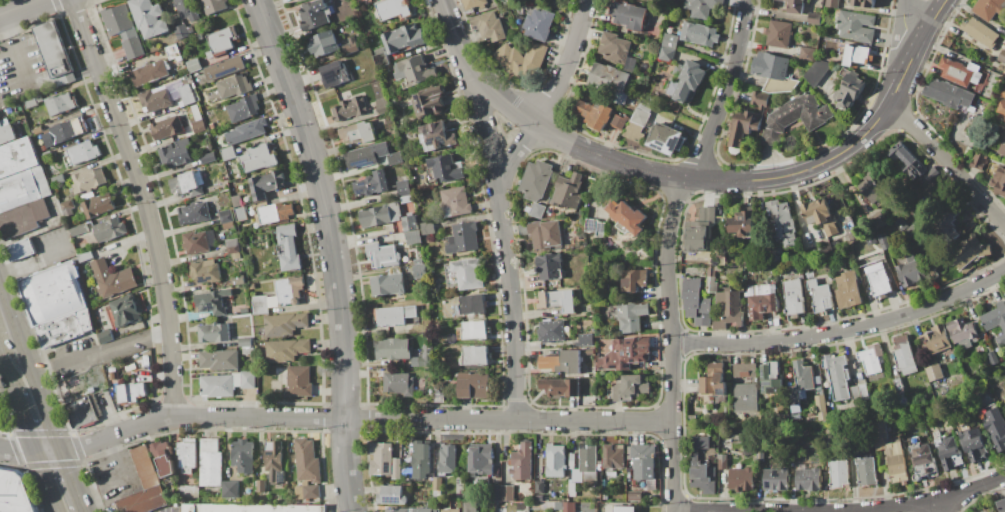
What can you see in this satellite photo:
building: (295, 0)
building: (328, 1)
building: (864, 3)
building: (474, 4)
building: (832, 4)
building: (214, 6)
building: (794, 6)
road: (20, 7)
building: (702, 7)
building: (186, 9)
building: (395, 9)
building: (988, 9)
building: (314, 15)
building: (628, 15)
building: (149, 18)
building: (814, 19)
road: (904, 23)
building: (539, 25)
building: (488, 26)
building: (855, 26)
building: (123, 30)
building: (190, 30)
building: (181, 32)
building: (980, 33)
building: (699, 34)
building: (779, 34)
building: (200, 36)
building: (404, 39)
building: (1004, 39)
building: (222, 41)
building: (670, 42)
building: (323, 44)
building: (614, 48)
building: (348, 49)
building: (54, 50)
building: (379, 51)
building: (173, 53)
building: (806, 53)
road: (16, 54)
building: (666, 55)
building: (857, 56)
building: (1002, 57)
building: (380, 60)
building: (522, 61)
building: (179, 63)
building: (167, 64)
building: (194, 65)
building: (630, 65)
building: (770, 66)
building: (225, 68)
building: (677, 70)
building: (414, 71)
building: (957, 71)
building: (817, 72)
building: (149, 73)
building: (334, 74)
building: (976, 76)
building: (65, 79)
building: (983, 79)
building: (610, 82)
building: (687, 83)
building: (779, 85)
building: (234, 86)
building: (849, 90)
building: (1002, 93)
building: (411, 94)
building: (949, 94)
building: (187, 95)
building: (39, 99)
road: (549, 99)
building: (155, 100)
building: (428, 102)
building: (30, 103)
building: (61, 104)
building: (382, 104)
building: (644, 108)
building: (244, 109)
building: (349, 109)
building: (1001, 109)
building: (799, 113)
building: (595, 115)
building: (640, 117)
road: (874, 121)
building: (1004, 121)
building: (4, 122)
building: (620, 123)
building: (747, 123)
building: (0, 125)
building: (167, 128)
building: (199, 128)
building: (68, 130)
building: (38, 131)
building: (247, 131)
building: (634, 132)
building: (357, 133)
building: (7, 134)
building: (437, 136)
building: (770, 137)
building: (48, 139)
building: (666, 139)
road: (565, 141)
building: (42, 148)
building: (1003, 149)
building: (969, 152)
building: (81, 153)
building: (228, 153)
building: (176, 154)
building: (46, 155)
building: (365, 156)
building: (17, 157)
building: (207, 158)
building: (258, 158)
building: (394, 158)
building: (908, 161)
building: (978, 161)
road: (947, 163)
building: (446, 168)
building: (569, 168)
building: (387, 170)
building: (932, 174)
building: (59, 180)
building: (88, 180)
building: (536, 180)
building: (999, 181)
building: (188, 184)
building: (371, 184)
building: (266, 185)
building: (873, 187)
building: (403, 188)
building: (23, 189)
building: (569, 192)
building: (406, 199)
building: (237, 201)
building: (455, 202)
road: (144, 205)
building: (67, 207)
building: (97, 207)
building: (536, 210)
building: (194, 212)
building: (275, 213)
building: (241, 214)
building: (381, 214)
building: (708, 214)
building: (226, 216)
building: (820, 216)
building: (627, 217)
building: (23, 219)
building: (410, 223)
building: (947, 223)
building: (782, 224)
building: (592, 225)
building: (743, 225)
building: (958, 225)
building: (228, 226)
building: (427, 228)
building: (601, 229)
building: (79, 230)
building: (110, 230)
building: (267, 232)
building: (546, 234)
building: (698, 236)
building: (211, 237)
building: (221, 237)
building: (413, 237)
building: (463, 239)
building: (871, 240)
building: (883, 242)
building: (196, 243)
building: (112, 246)
building: (232, 247)
building: (289, 247)
road: (503, 249)
building: (642, 249)
road: (667, 249)
building: (20, 250)
road: (333, 250)
building: (78, 252)
building: (972, 253)
building: (777, 255)
building: (84, 256)
building: (236, 256)
building: (384, 256)
road: (33, 260)
building: (418, 262)
building: (550, 267)
building: (205, 271)
building: (419, 271)
building: (834, 272)
building: (911, 272)
building: (469, 273)
building: (712, 275)
building: (877, 277)
building: (112, 279)
building: (238, 280)
building: (634, 280)
building: (811, 284)
building: (387, 285)
building: (252, 286)
building: (290, 289)
building: (760, 290)
building: (847, 290)
building: (52, 294)
building: (691, 296)
building: (793, 298)
building: (822, 299)
building: (557, 301)
building: (213, 302)
building: (273, 302)
building: (261, 305)
building: (471, 305)
building: (761, 306)
building: (728, 310)
building: (126, 311)
building: (244, 311)
building: (703, 313)
building: (394, 315)
building: (603, 317)
building: (630, 317)
building: (996, 321)
building: (285, 324)
building: (65, 328)
building: (475, 331)
road: (843, 331)
building: (551, 332)
building: (214, 333)
building: (962, 333)
road: (7, 334)
building: (106, 337)
building: (585, 340)
building: (938, 340)
road: (17, 341)
building: (244, 342)
building: (393, 349)
building: (286, 350)
building: (247, 351)
road: (88, 352)
building: (589, 352)
building: (625, 354)
building: (904, 356)
building: (474, 357)
building: (424, 358)
building: (993, 358)
building: (872, 359)
building: (219, 360)
building: (562, 362)
building: (744, 370)
building: (934, 373)
building: (112, 375)
building: (837, 375)
building: (803, 376)
road: (6, 378)
building: (148, 378)
building: (771, 378)
building: (237, 379)
building: (249, 379)
building: (714, 380)
building: (299, 382)
building: (817, 382)
building: (399, 384)
building: (473, 385)
building: (82, 386)
building: (217, 386)
building: (898, 386)
building: (588, 387)
building: (630, 387)
building: (560, 388)
building: (863, 392)
building: (130, 393)
building: (802, 394)
building: (855, 394)
building: (793, 396)
building: (983, 397)
building: (745, 398)
building: (902, 400)
building: (959, 403)
building: (821, 407)
building: (83, 411)
building: (795, 417)
road: (46, 418)
building: (693, 418)
road: (333, 420)
road: (22, 422)
building: (995, 426)
building: (881, 432)
building: (828, 442)
building: (209, 445)
building: (974, 445)
building: (698, 446)
building: (794, 449)
building: (948, 451)
building: (187, 455)
building: (242, 456)
building: (164, 458)
building: (614, 458)
building: (448, 459)
building: (481, 459)
building: (421, 460)
building: (589, 460)
building: (274, 461)
building: (307, 461)
building: (385, 461)
building: (556, 461)
building: (572, 461)
building: (924, 461)
building: (522, 462)
building: (642, 462)
building: (723, 462)
building: (896, 463)
road: (118, 465)
building: (146, 467)
building: (211, 469)
building: (867, 472)
building: (839, 474)
building: (577, 476)
building: (703, 477)
building: (808, 478)
road: (71, 479)
building: (776, 479)
building: (742, 480)
road: (45, 481)
building: (526, 483)
building: (437, 484)
building: (261, 486)
building: (605, 487)
building: (539, 488)
building: (572, 489)
building: (230, 490)
building: (461, 490)
building: (188, 492)
building: (311, 492)
building: (14, 493)
building: (494, 493)
building: (507, 494)
building: (467, 495)
building: (392, 496)
building: (635, 497)
building: (539, 498)
building: (622, 499)
building: (143, 501)
building: (428, 505)
building: (1001, 505)
building: (510, 506)
building: (559, 506)
road: (931, 506)
building: (470, 507)
building: (569, 507)
building: (253, 508)
building: (625, 509)
building: (412, 510)
road: (84, 511)
road: (843, 511)

